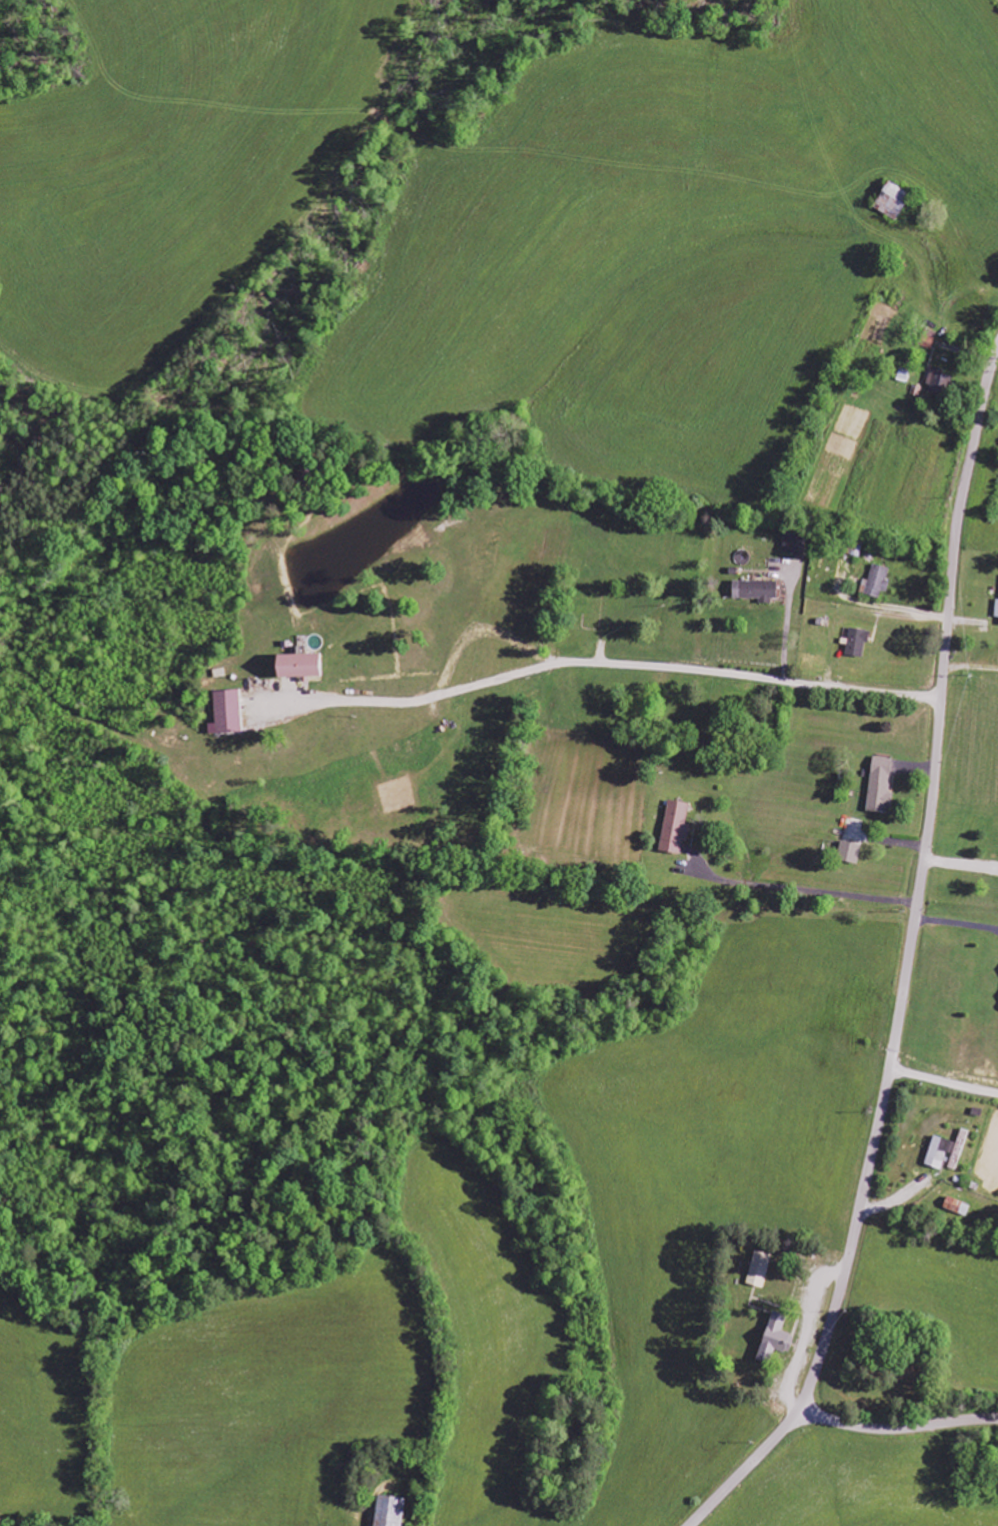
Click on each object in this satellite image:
building: (891, 200)
building: (938, 382)
building: (794, 543)
building: (877, 581)
building: (755, 590)
building: (996, 612)
building: (856, 643)
building: (297, 665)
road: (746, 677)
building: (227, 712)
building: (879, 786)
building: (674, 827)
building: (848, 853)
road: (906, 962)
road: (942, 1082)
building: (956, 1207)
building: (759, 1270)
building: (775, 1340)
road: (897, 1428)
building: (388, 1510)

